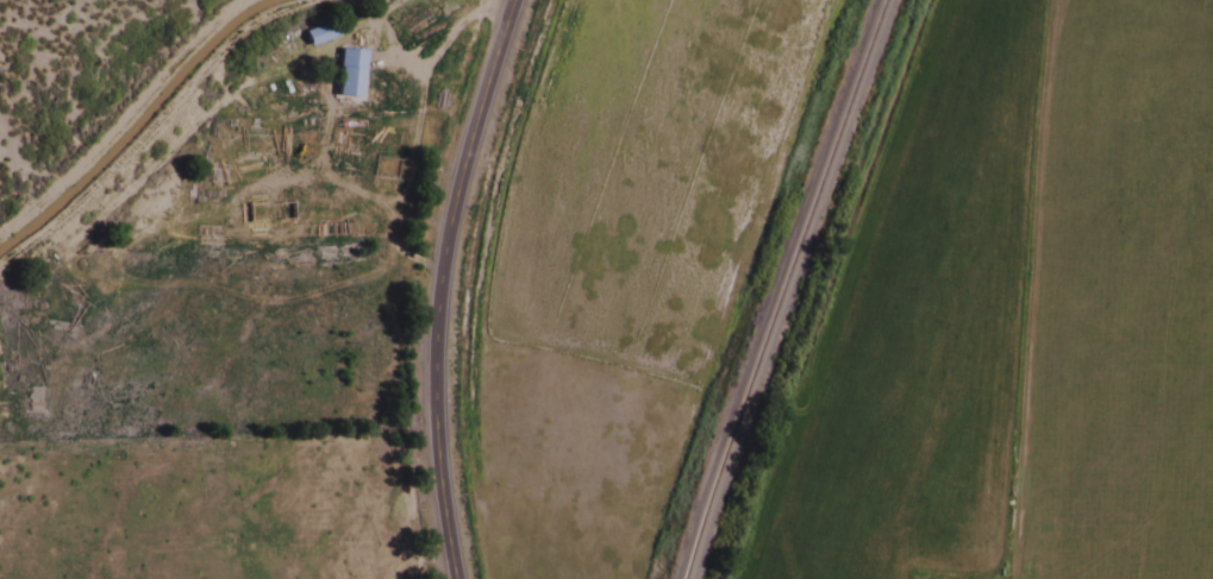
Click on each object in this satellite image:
building: (318, 36)
building: (348, 76)
road: (121, 114)
road: (150, 122)
road: (425, 285)
railway: (779, 288)

